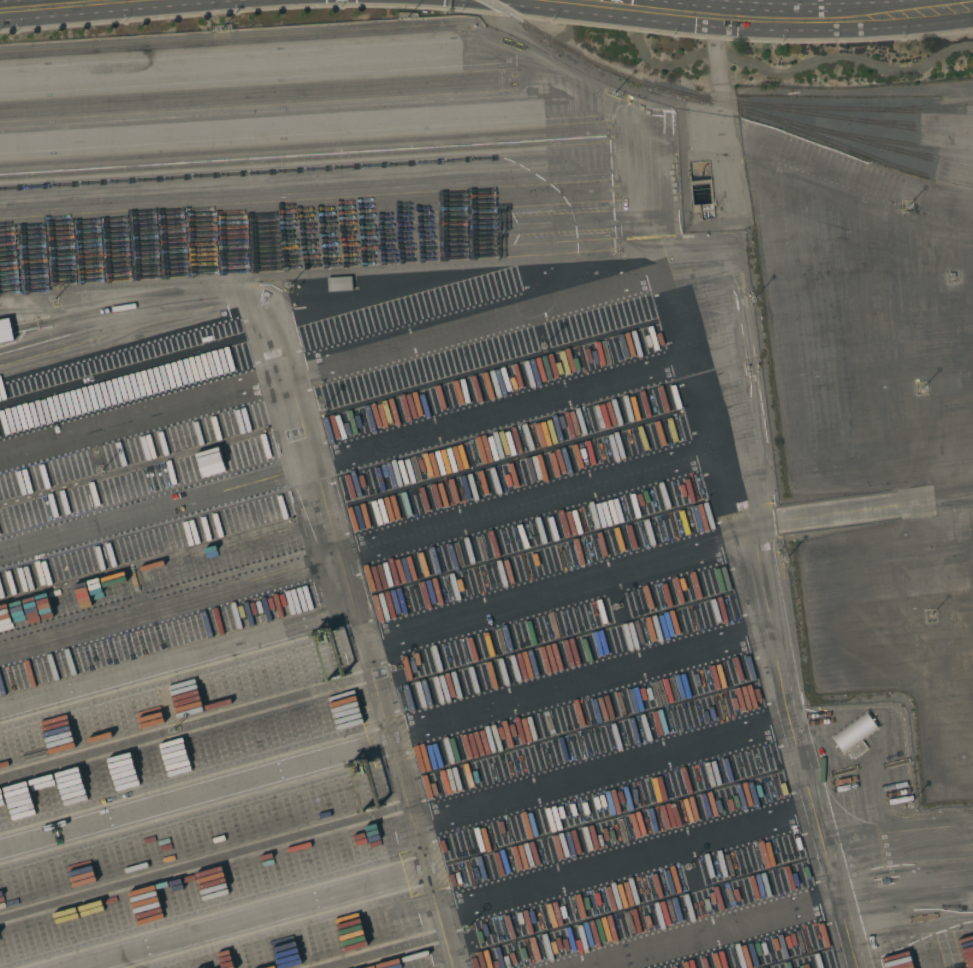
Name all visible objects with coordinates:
road: (626, 1)
road: (642, 1)
road: (36, 3)
road: (808, 16)
railway: (233, 43)
railway: (257, 90)
railway: (257, 100)
railway: (722, 104)
railway: (919, 108)
railway: (855, 109)
railway: (820, 115)
railway: (909, 123)
railway: (889, 141)
railway: (307, 147)
railway: (857, 150)
railway: (926, 155)
railway: (307, 156)
railway: (308, 207)
railway: (309, 216)
railway: (310, 263)
building: (339, 284)
building: (5, 330)
road: (921, 341)
road: (293, 396)
road: (752, 494)
road: (957, 615)
building: (855, 736)
road: (390, 744)

